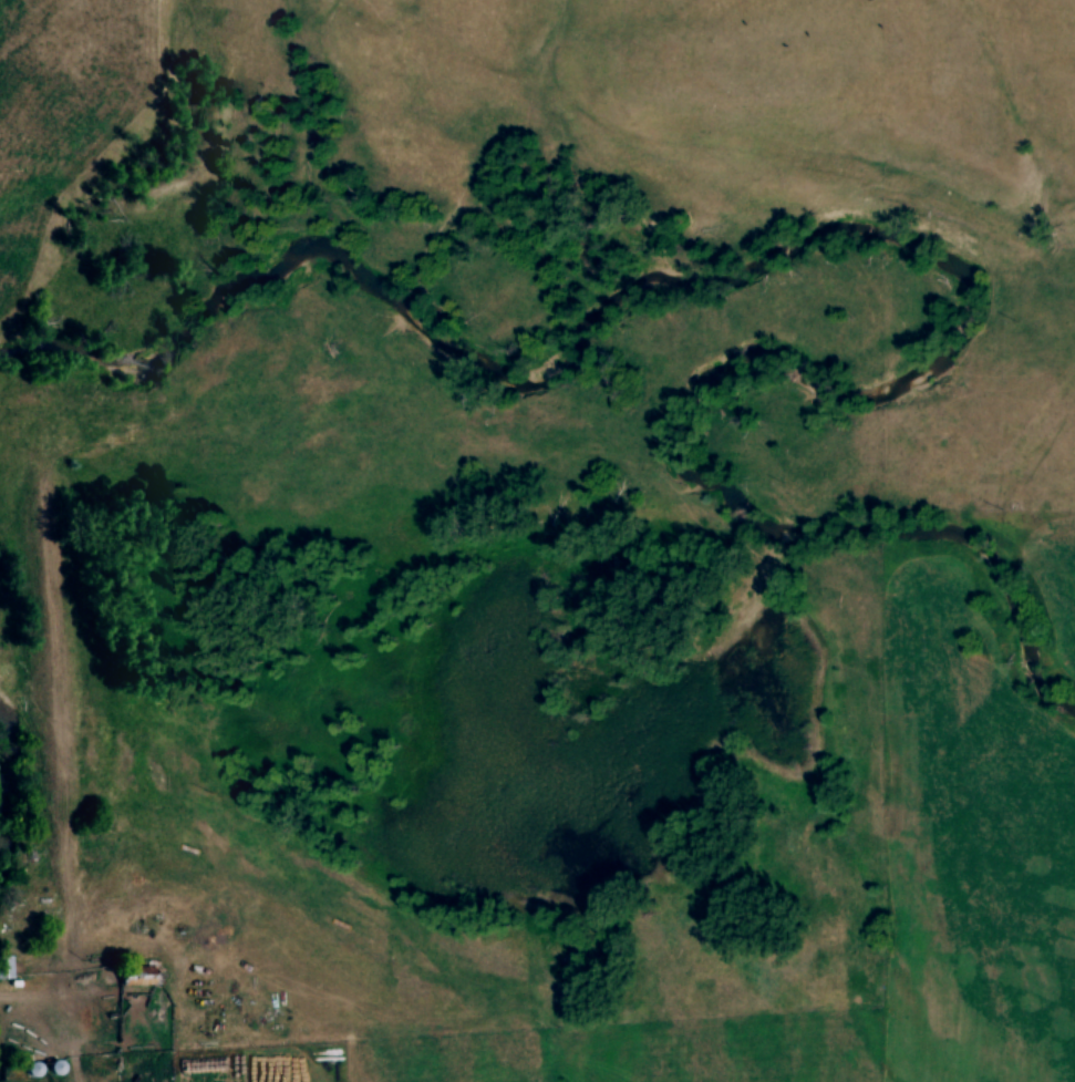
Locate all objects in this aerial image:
building: (143, 987)
building: (55, 1074)

